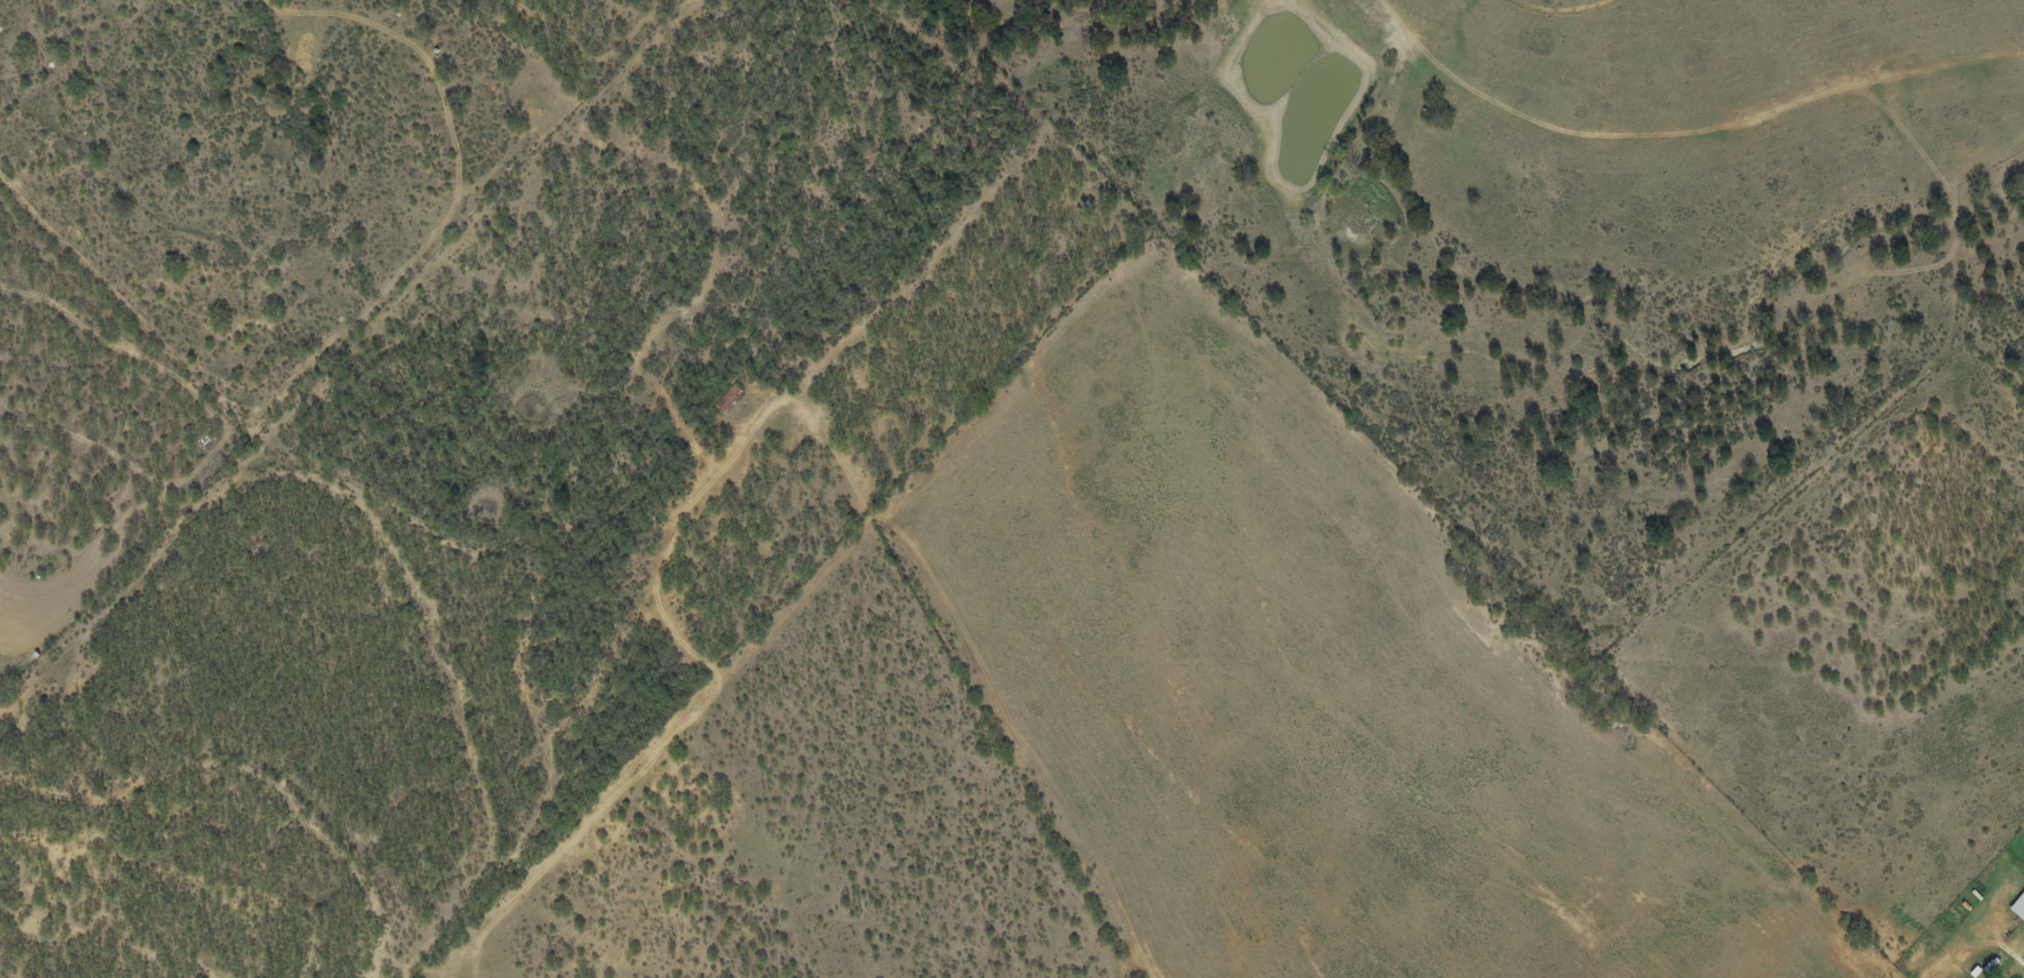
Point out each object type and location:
building: (727, 398)
building: (2019, 907)

